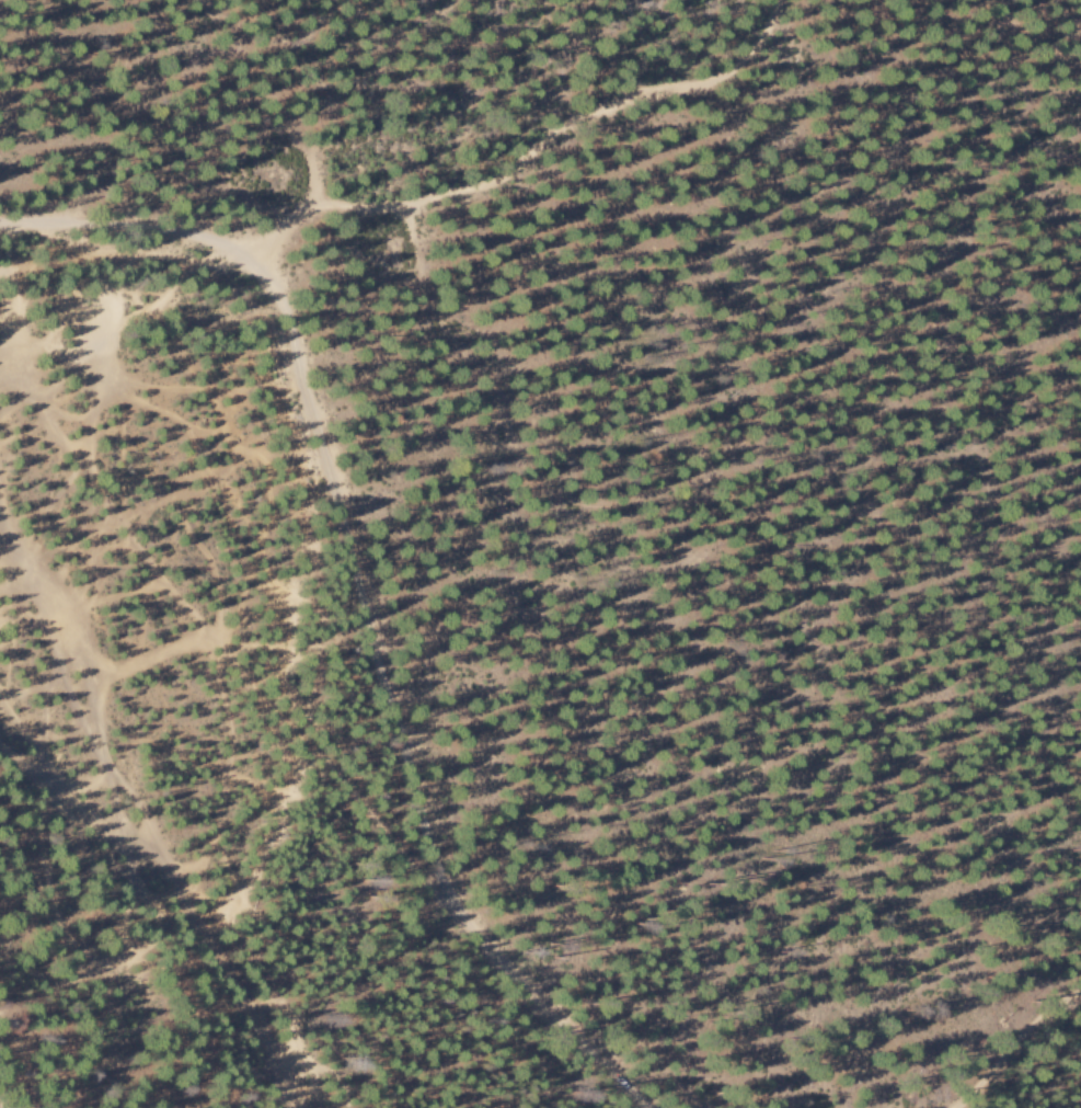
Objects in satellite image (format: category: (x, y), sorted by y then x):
road: (528, 157)
road: (7, 561)
road: (360, 592)
road: (77, 804)
road: (138, 819)
road: (1014, 1046)

